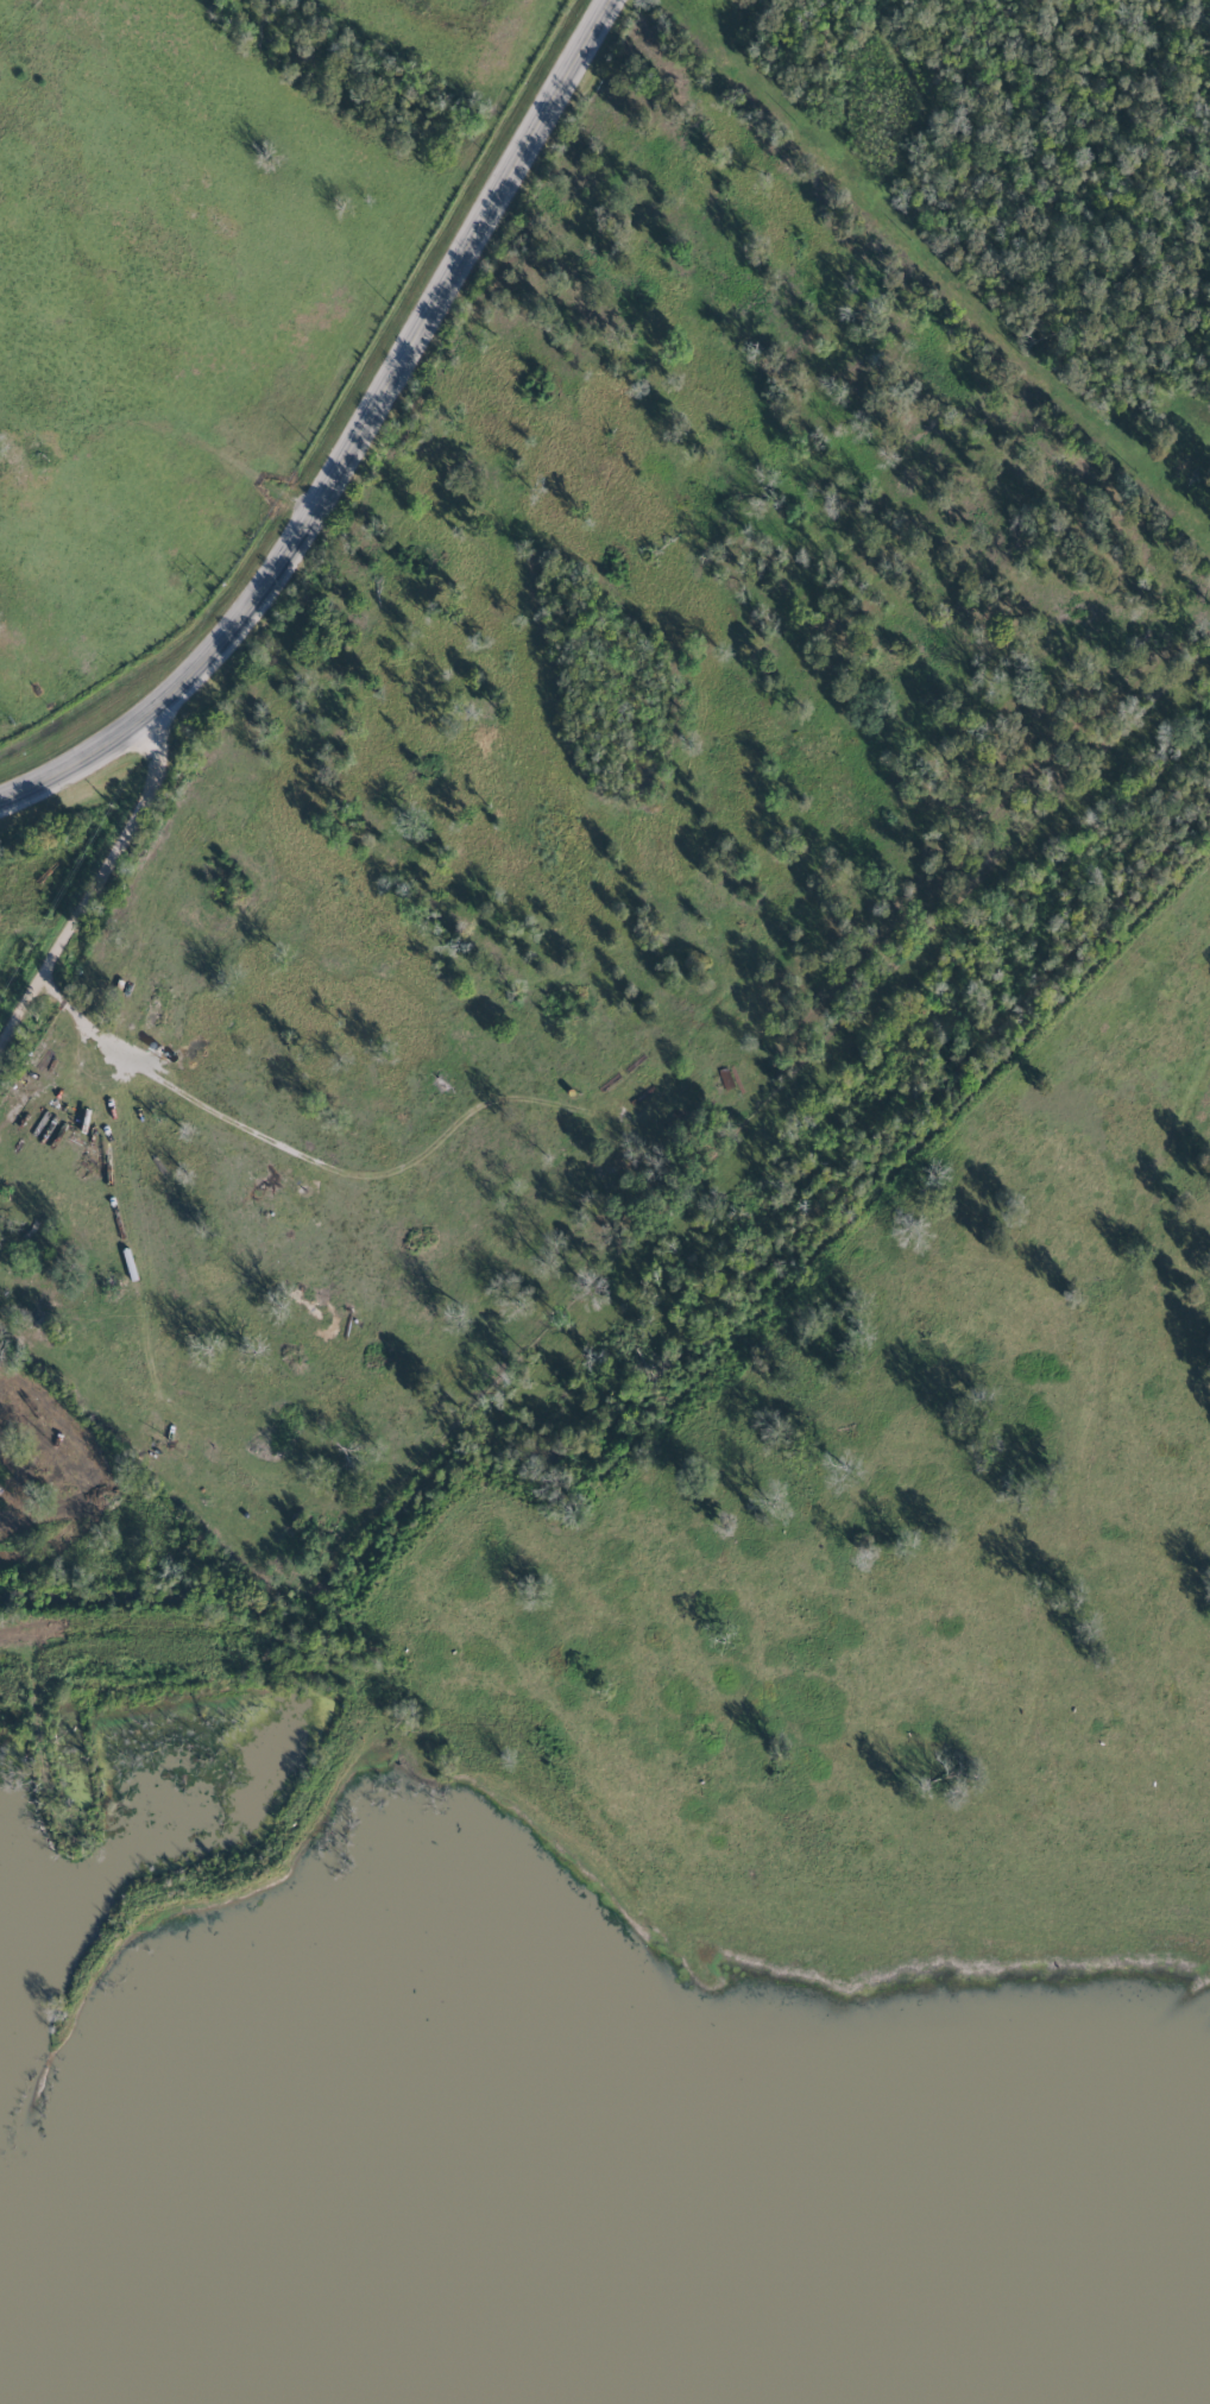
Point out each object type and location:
road: (349, 441)
road: (99, 888)
road: (210, 1109)
road: (1, 1239)

